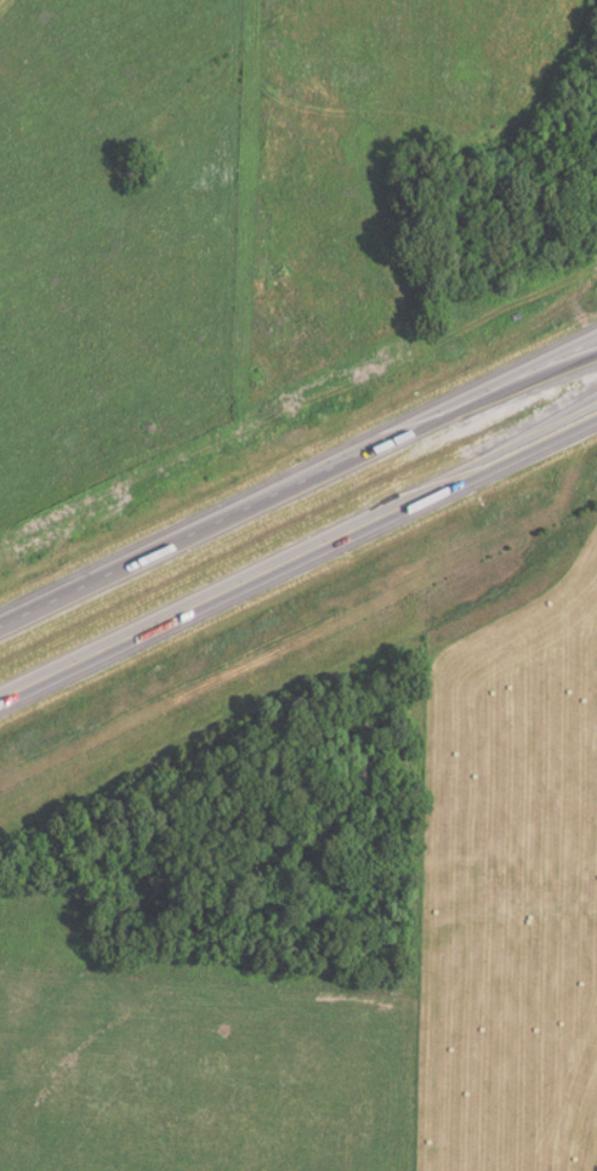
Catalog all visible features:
road: (297, 484)
road: (297, 556)

